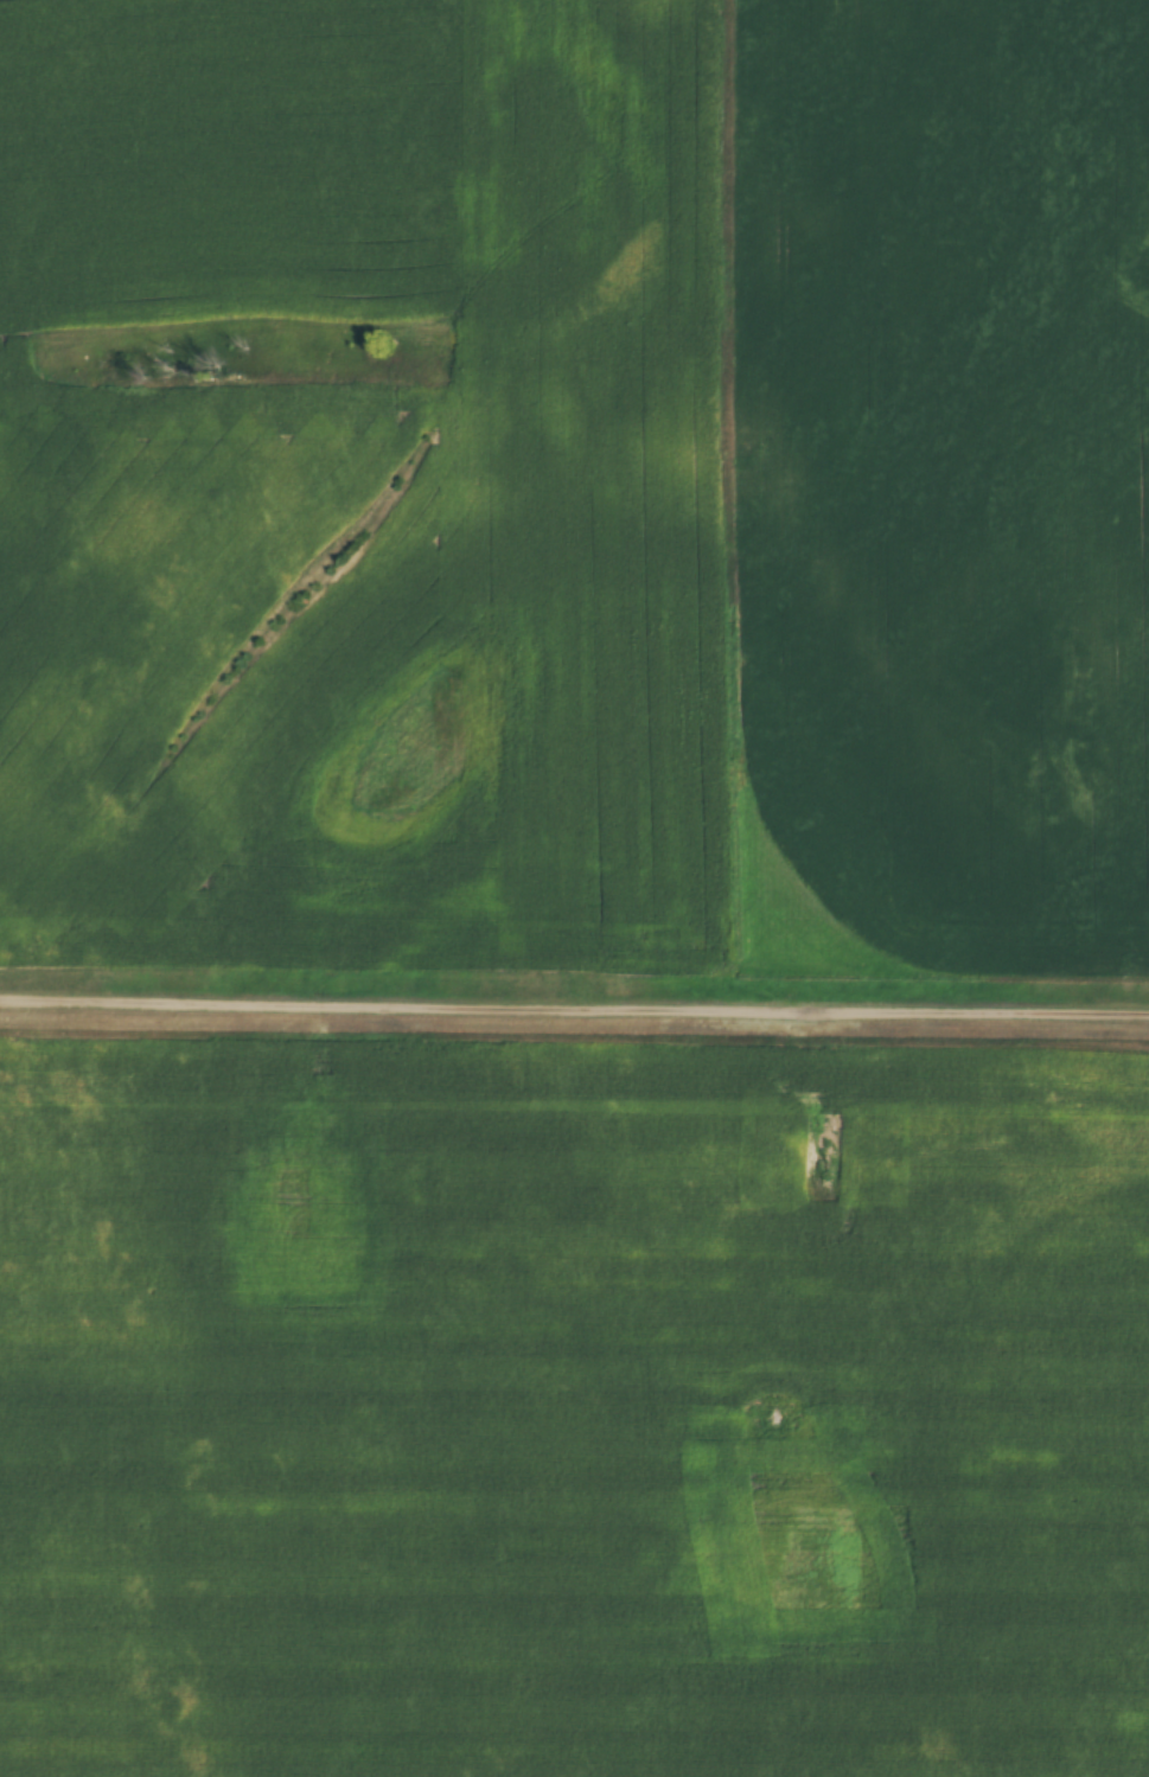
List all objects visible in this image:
road: (574, 999)
power tower: (42, 1033)
power tower: (439, 1038)
power tower: (804, 1041)

